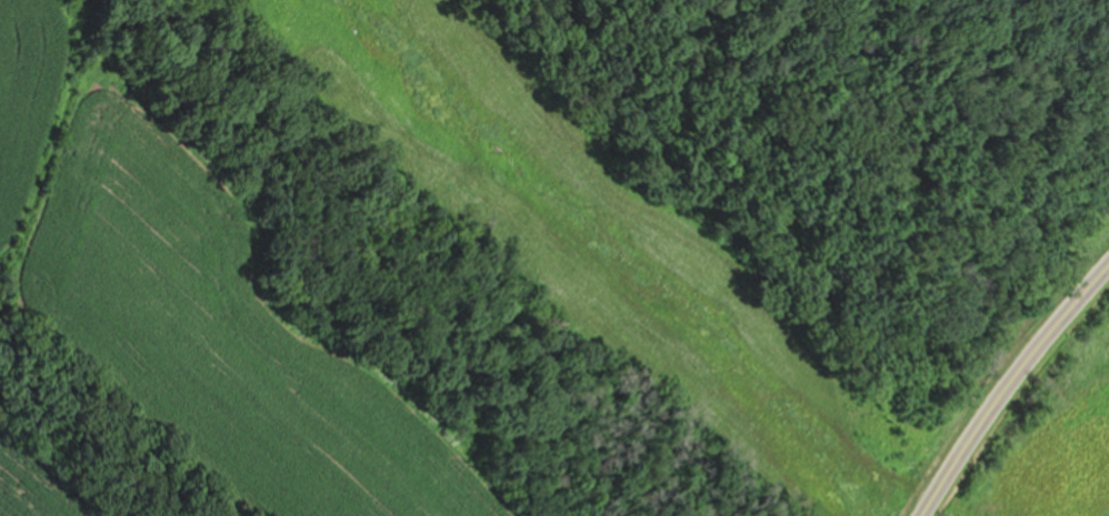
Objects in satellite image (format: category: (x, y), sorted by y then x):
road: (1009, 385)

